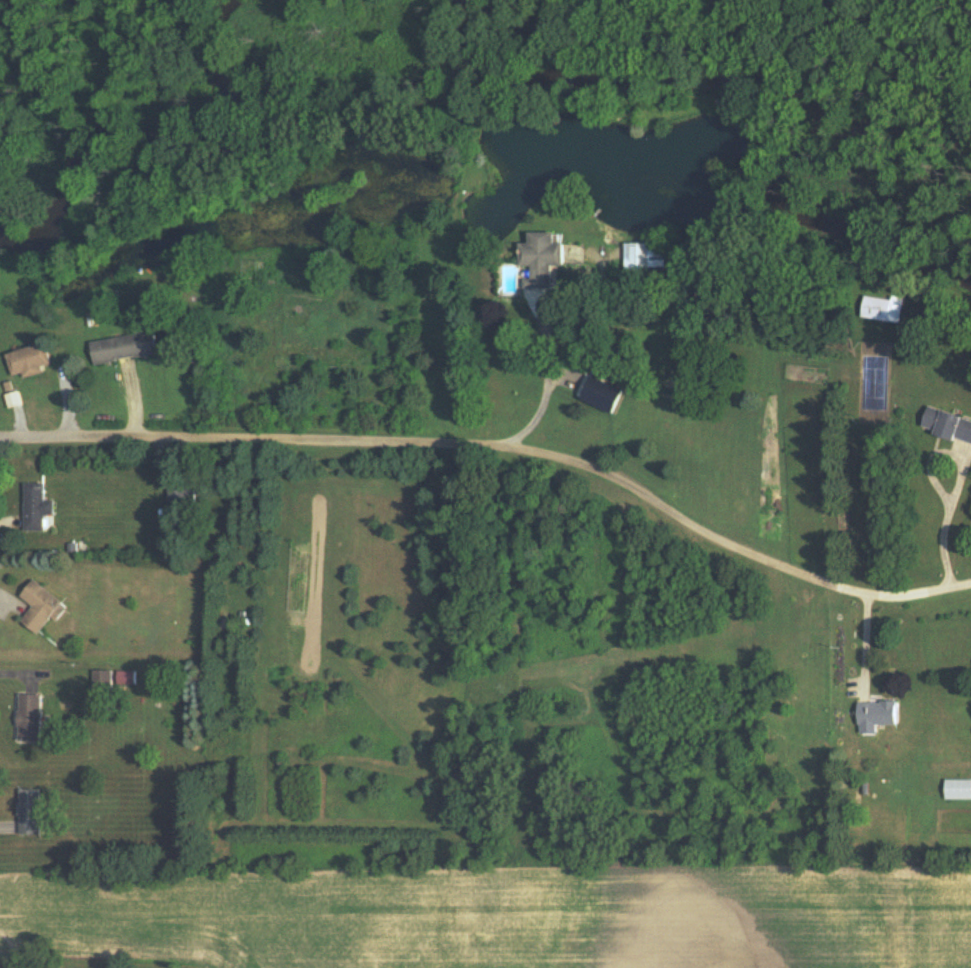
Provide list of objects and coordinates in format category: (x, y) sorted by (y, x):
building: (645, 255)
building: (543, 259)
building: (884, 308)
building: (125, 347)
building: (30, 359)
road: (544, 391)
building: (948, 424)
road: (502, 448)
building: (181, 494)
building: (37, 507)
road: (948, 525)
building: (41, 607)
road: (865, 644)
road: (22, 673)
building: (102, 682)
building: (877, 715)
building: (30, 717)
building: (958, 788)
building: (29, 811)

